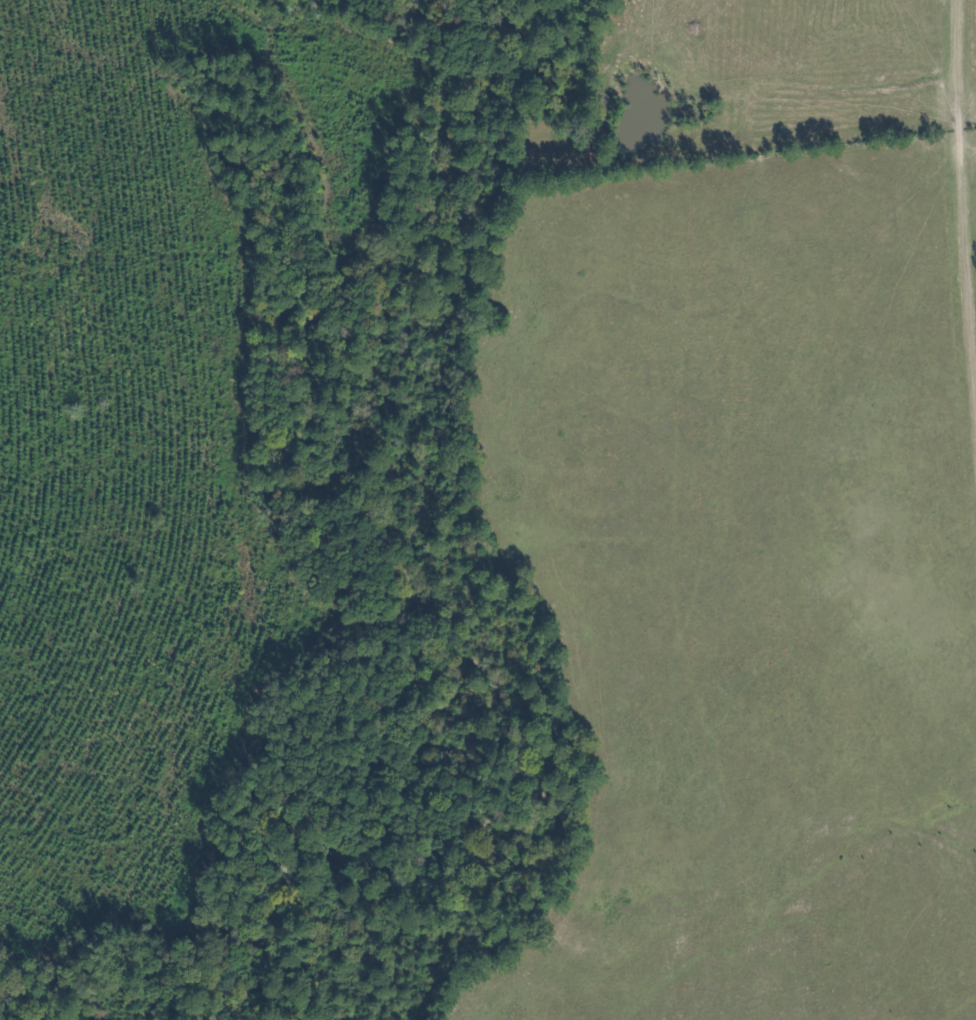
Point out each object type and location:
road: (960, 188)

